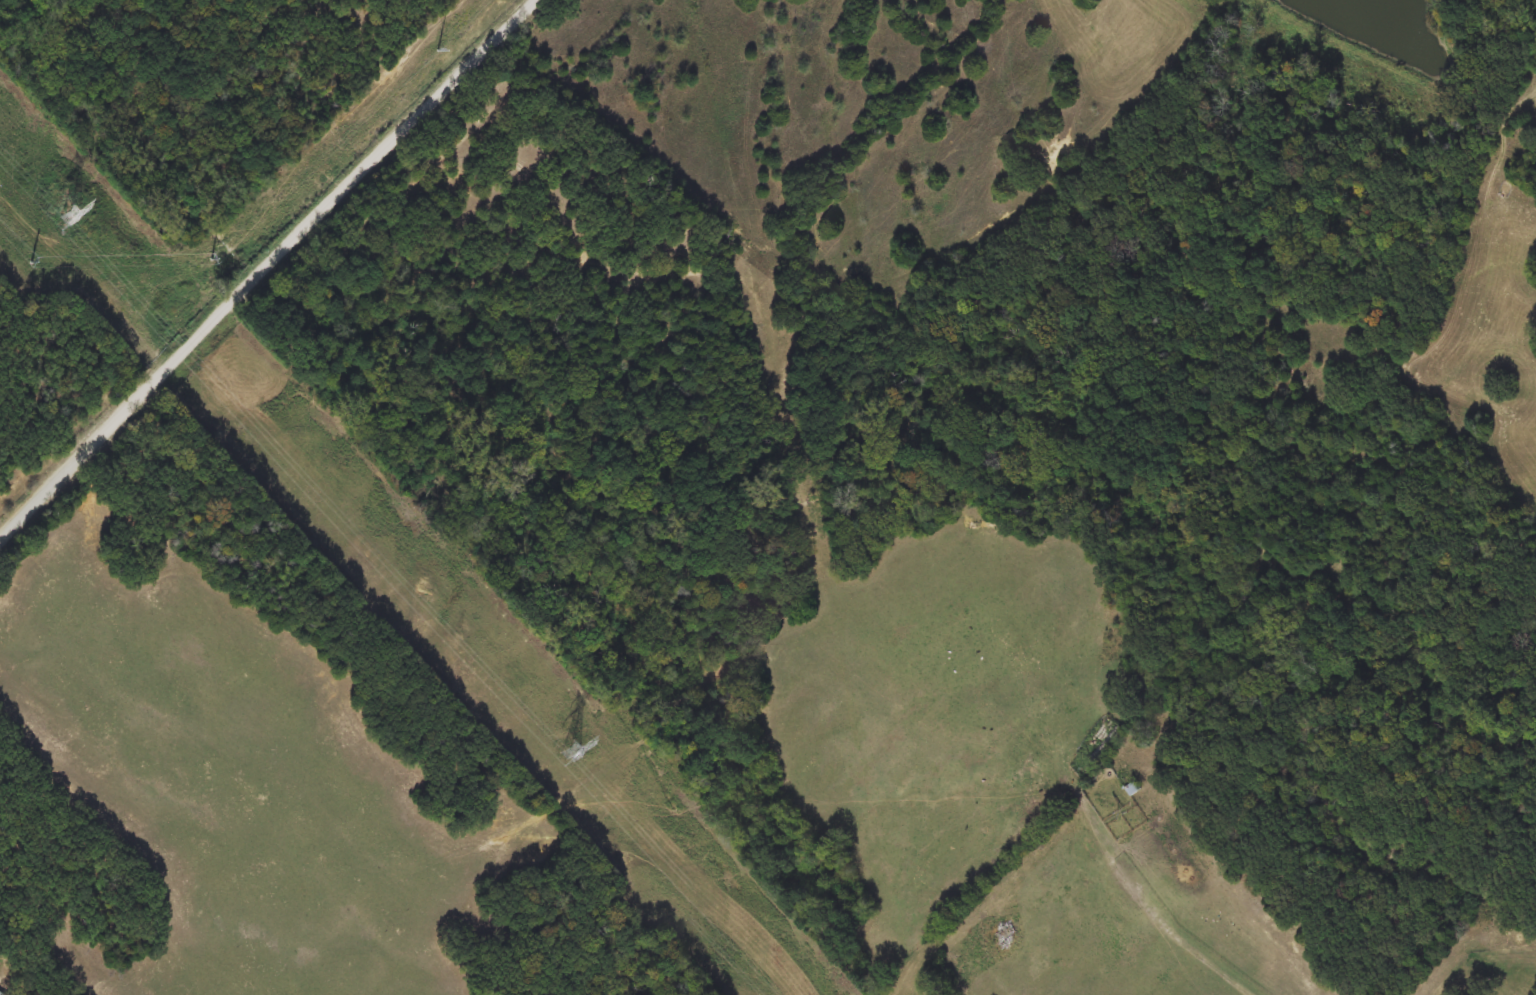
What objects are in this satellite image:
power tower: (64, 215)
road: (263, 267)
power tower: (569, 748)
building: (1133, 789)
road: (1205, 953)
building: (0, 994)

